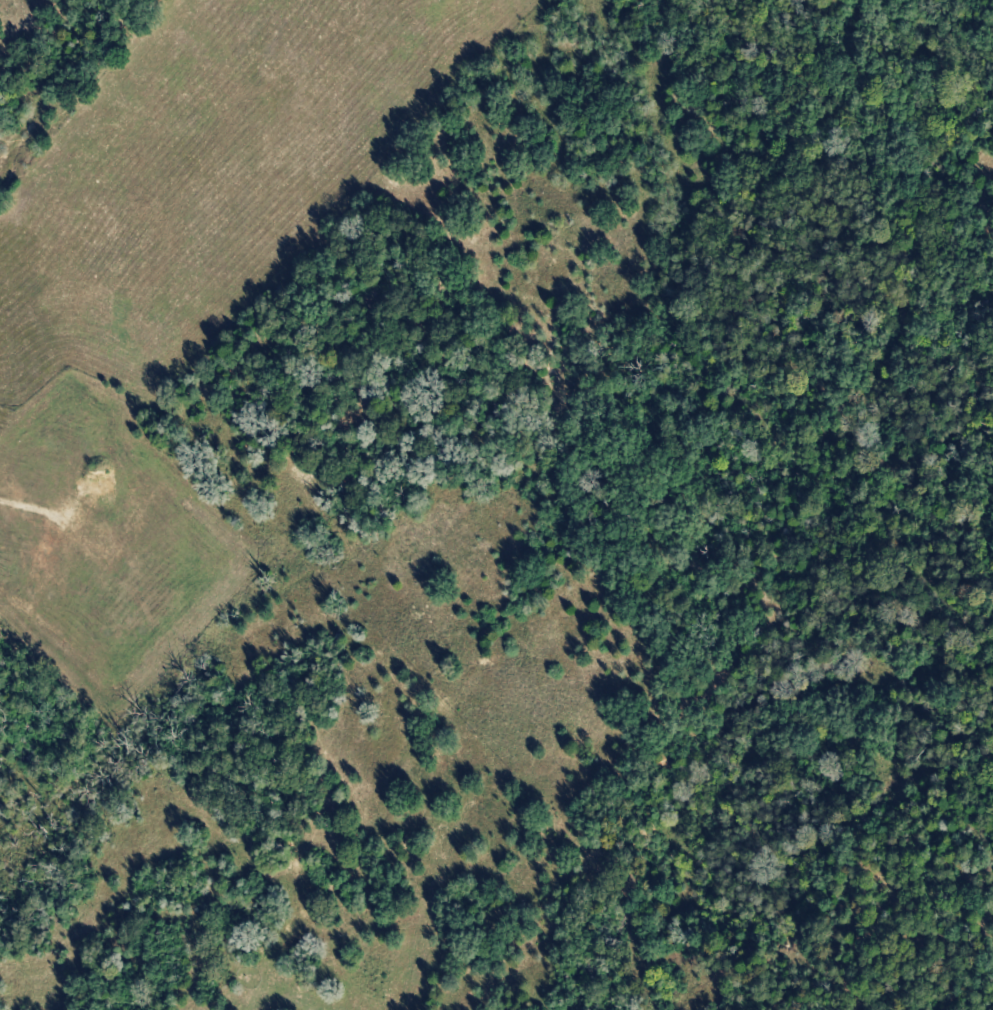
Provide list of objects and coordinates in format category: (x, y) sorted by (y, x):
road: (1, 0)

